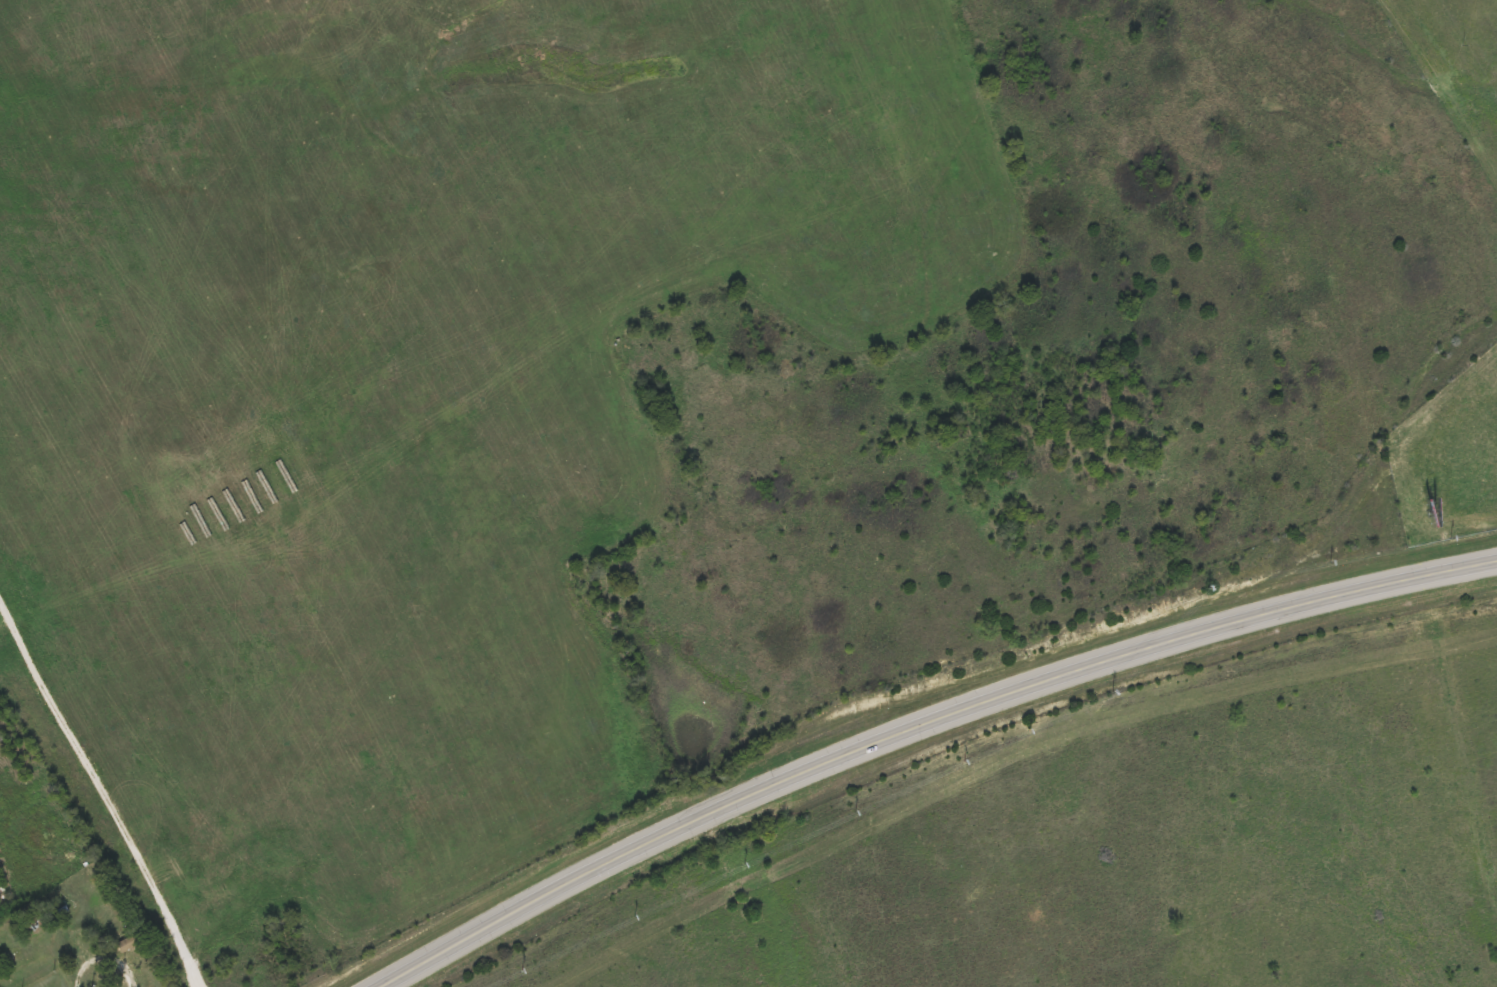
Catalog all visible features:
road: (923, 727)
building: (2, 741)
road: (100, 785)
building: (107, 900)
road: (100, 959)
road: (196, 980)

